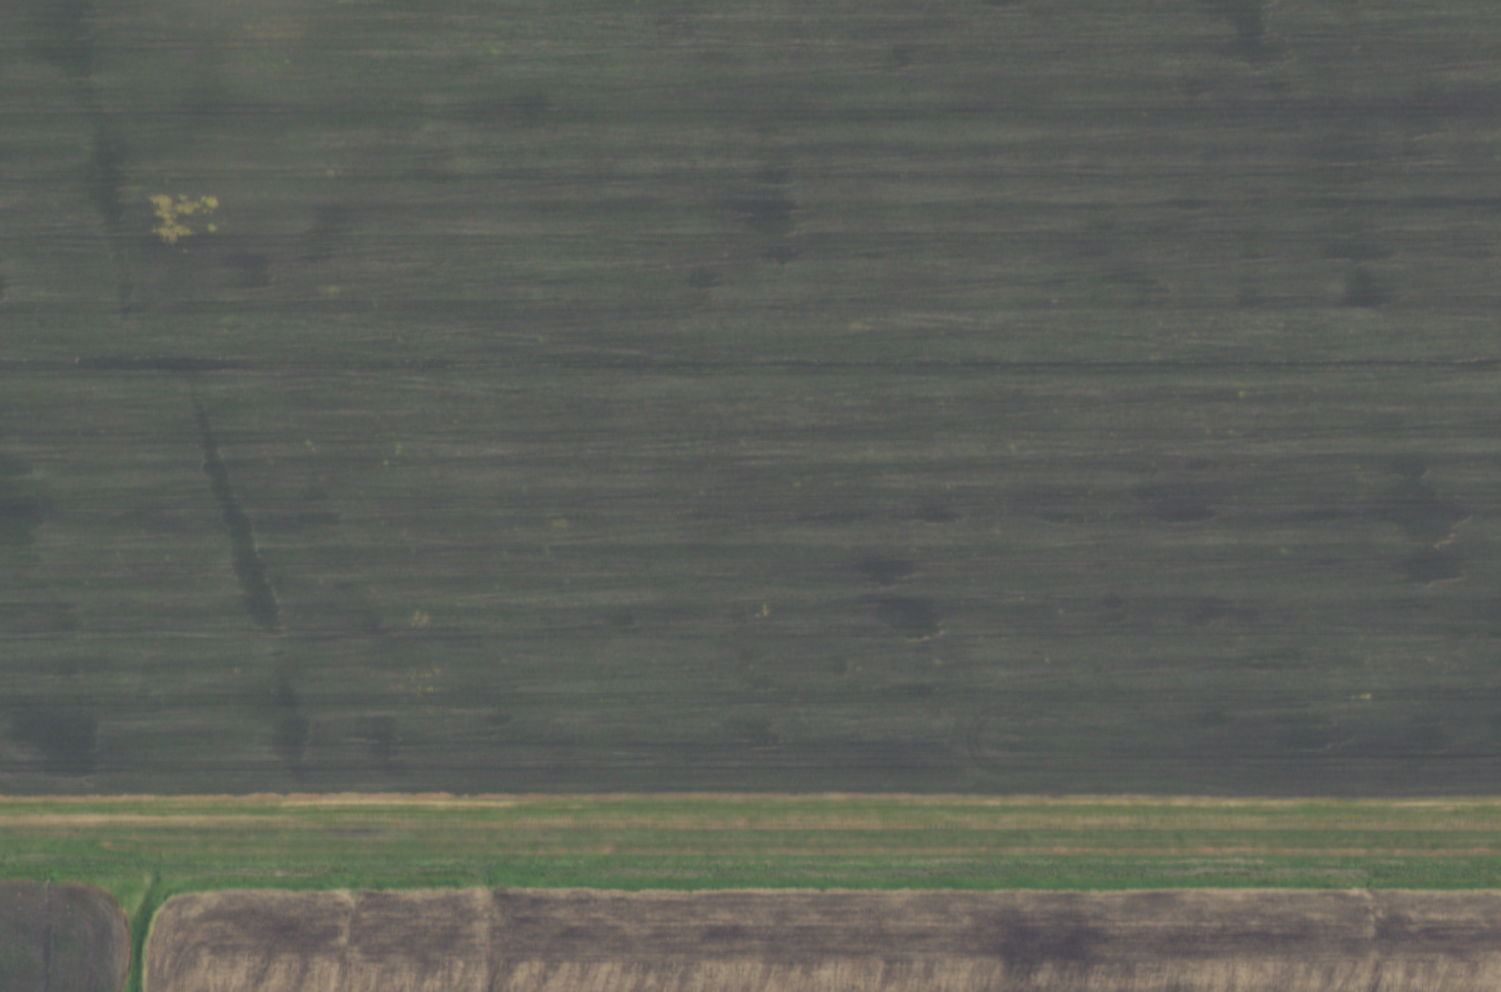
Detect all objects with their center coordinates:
road: (750, 839)

